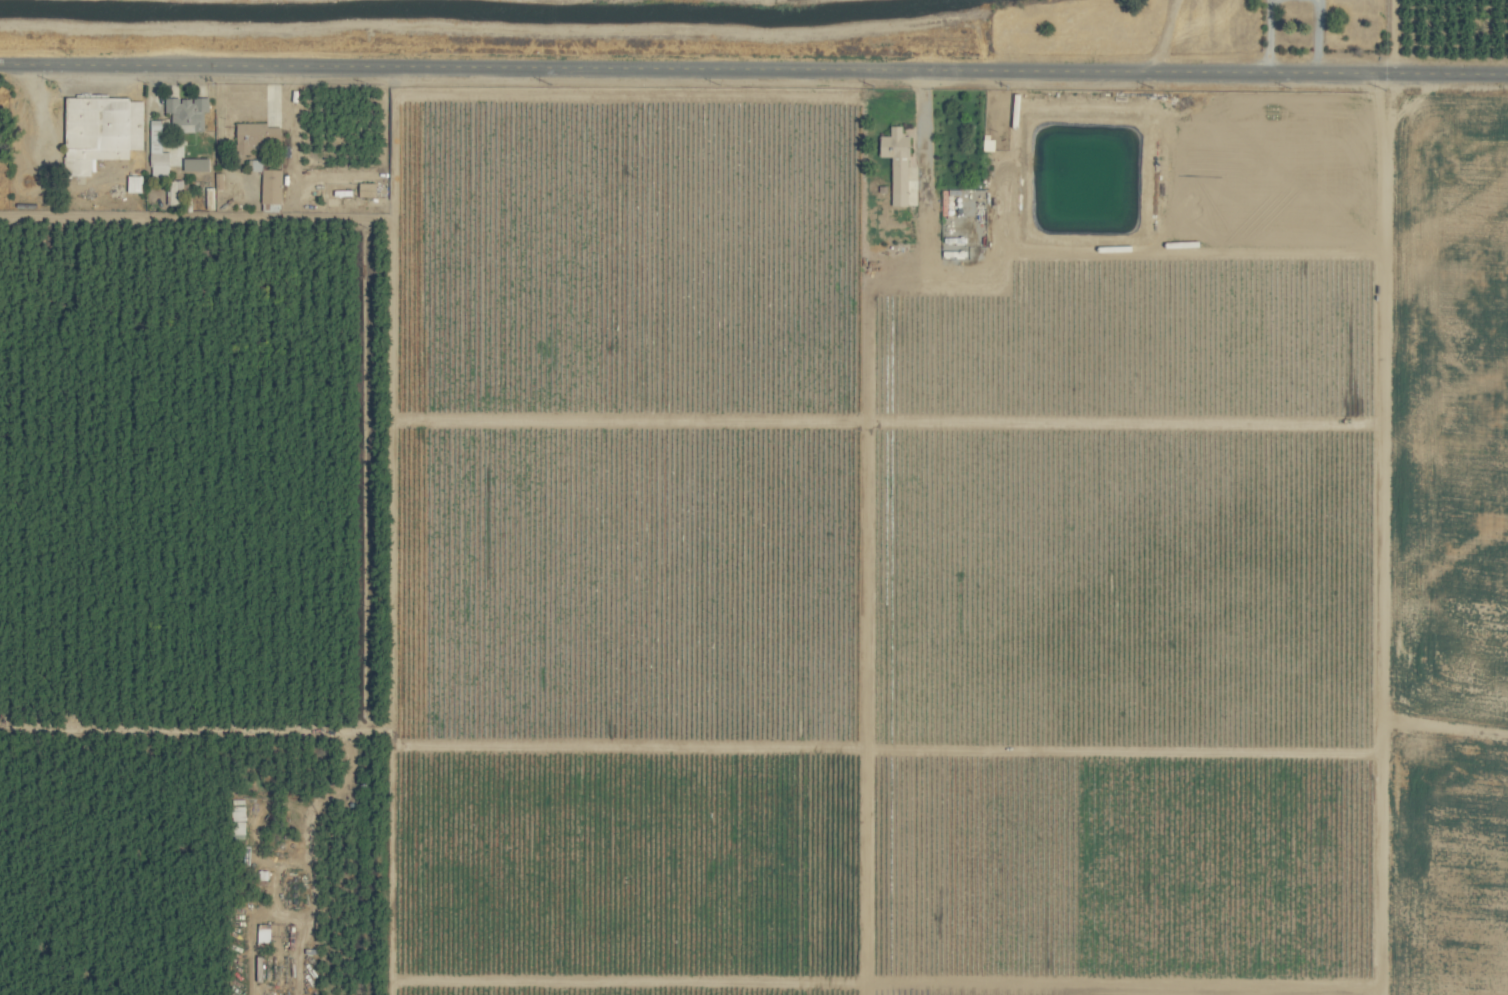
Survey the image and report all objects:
road: (1268, 2)
road: (1269, 35)
road: (1317, 35)
road: (2, 63)
road: (756, 68)
building: (188, 113)
building: (102, 131)
building: (256, 135)
building: (158, 152)
building: (898, 163)
building: (197, 164)
building: (255, 165)
building: (135, 184)
building: (272, 186)
building: (176, 192)
crop: (754, 497)

